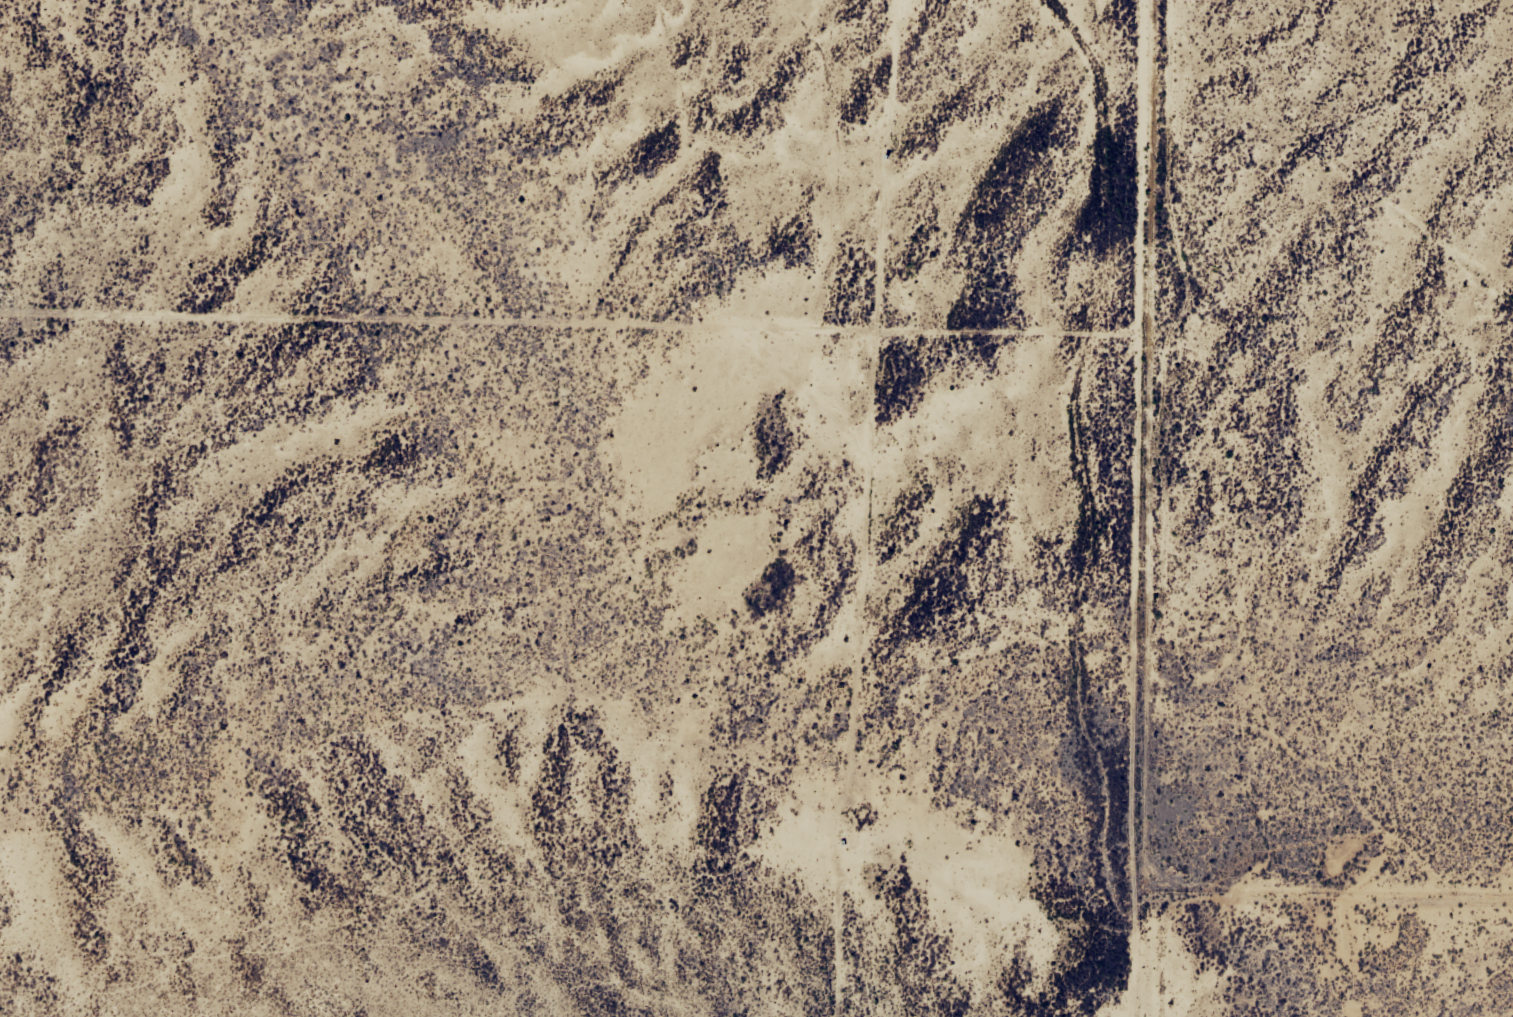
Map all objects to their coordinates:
road: (1138, 508)
road: (1324, 939)

